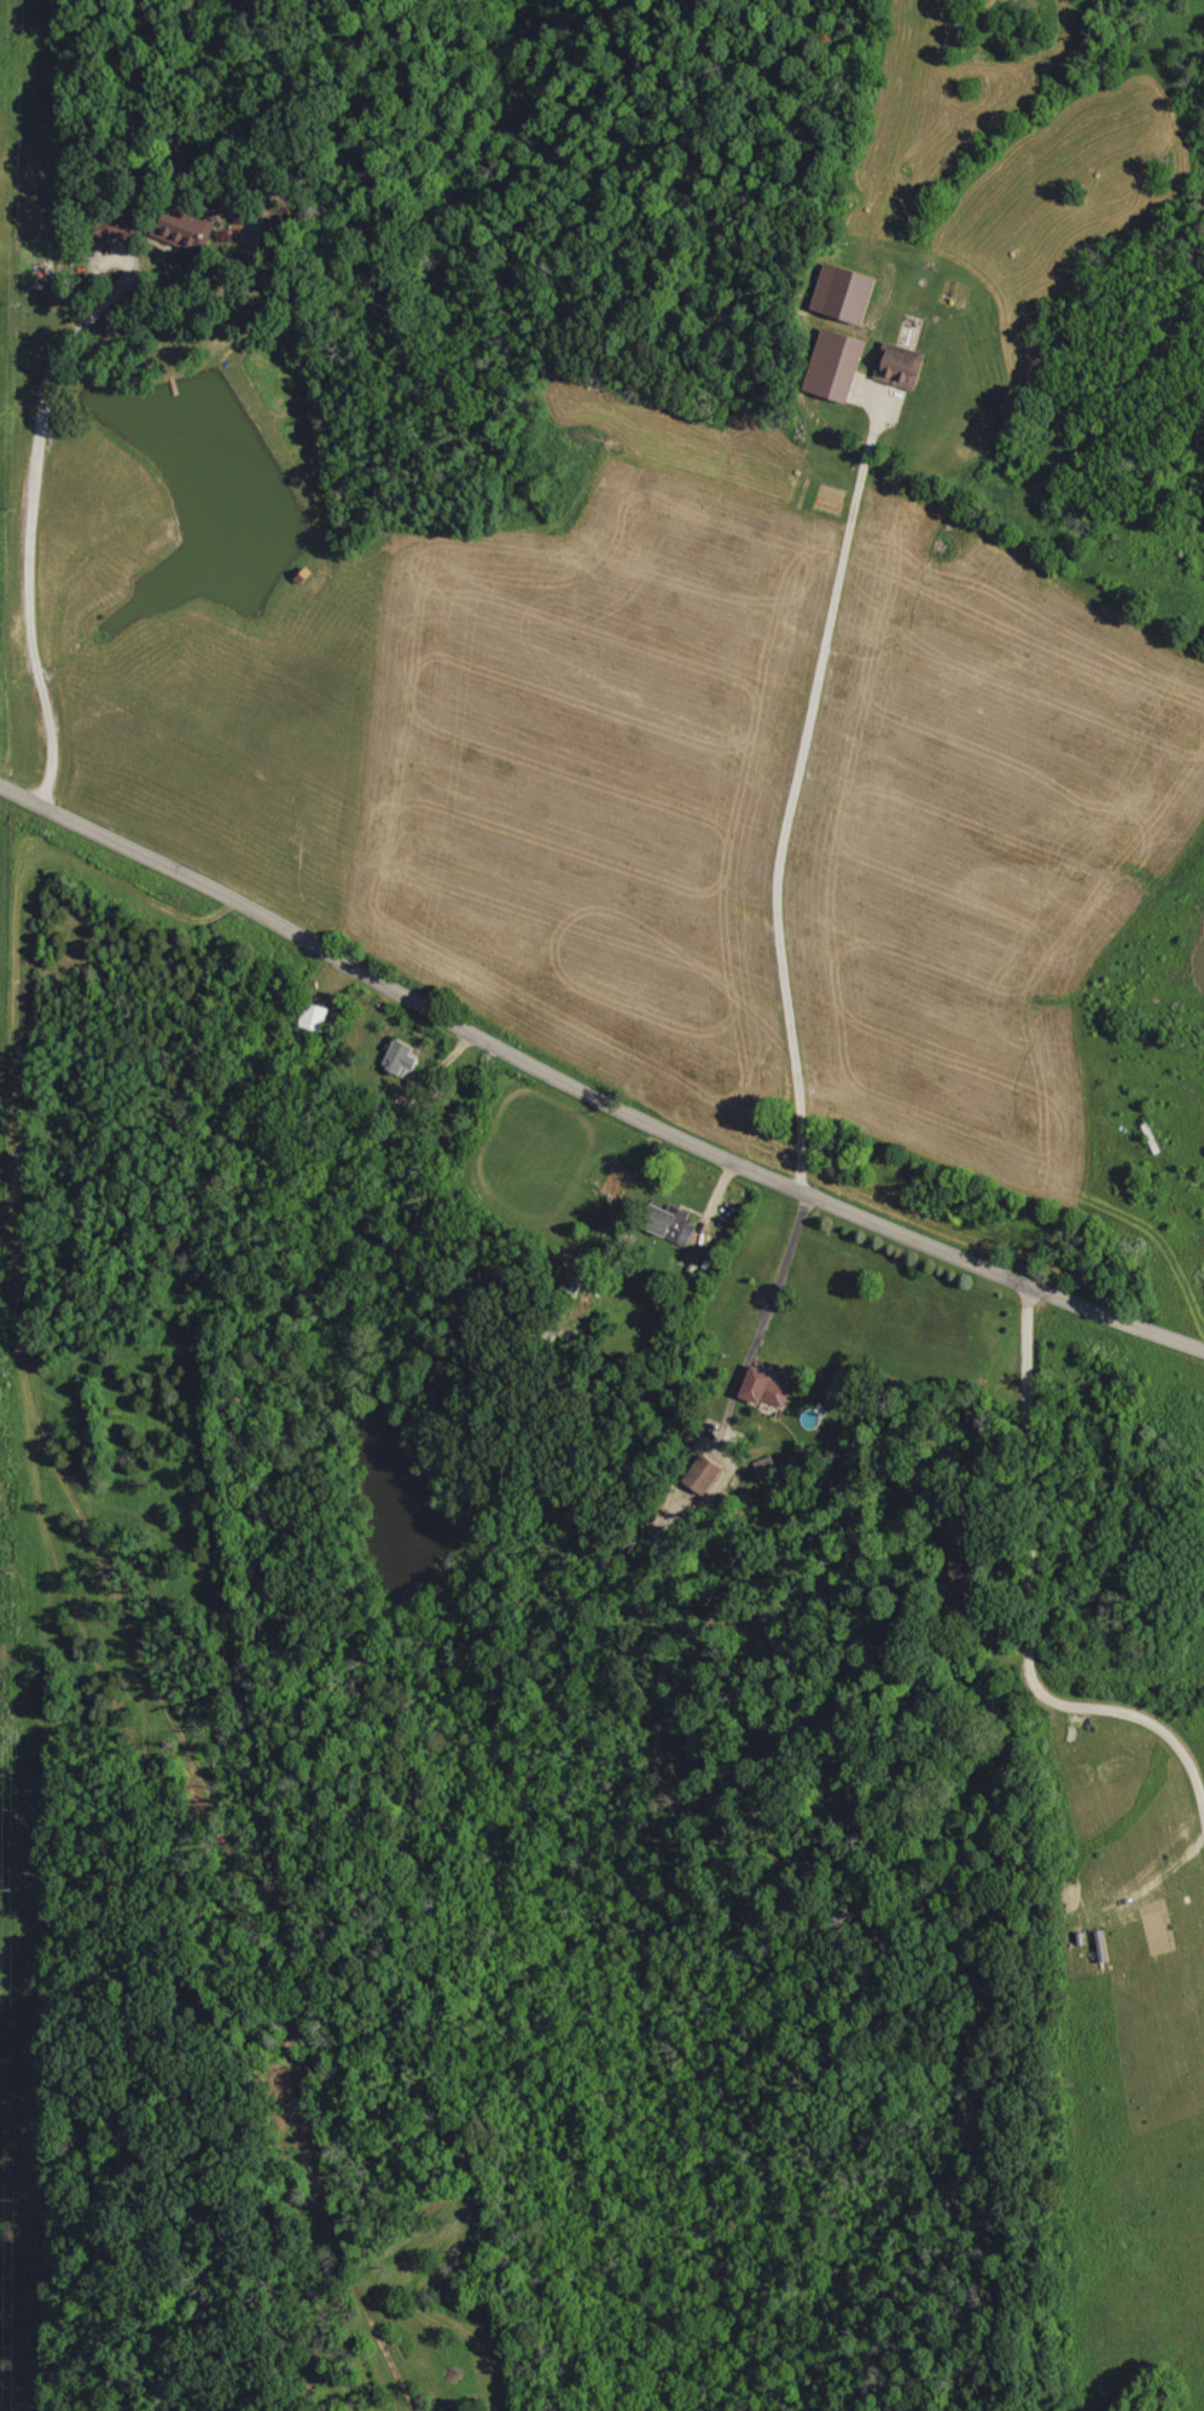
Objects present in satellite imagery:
building: (188, 227)
building: (845, 293)
building: (837, 365)
building: (900, 367)
road: (25, 537)
building: (313, 1017)
building: (401, 1056)
road: (591, 1089)
building: (671, 1223)
road: (775, 1275)
building: (766, 1386)
building: (706, 1472)
building: (962, 1572)
road: (1023, 1615)
power tower: (0, 2201)

